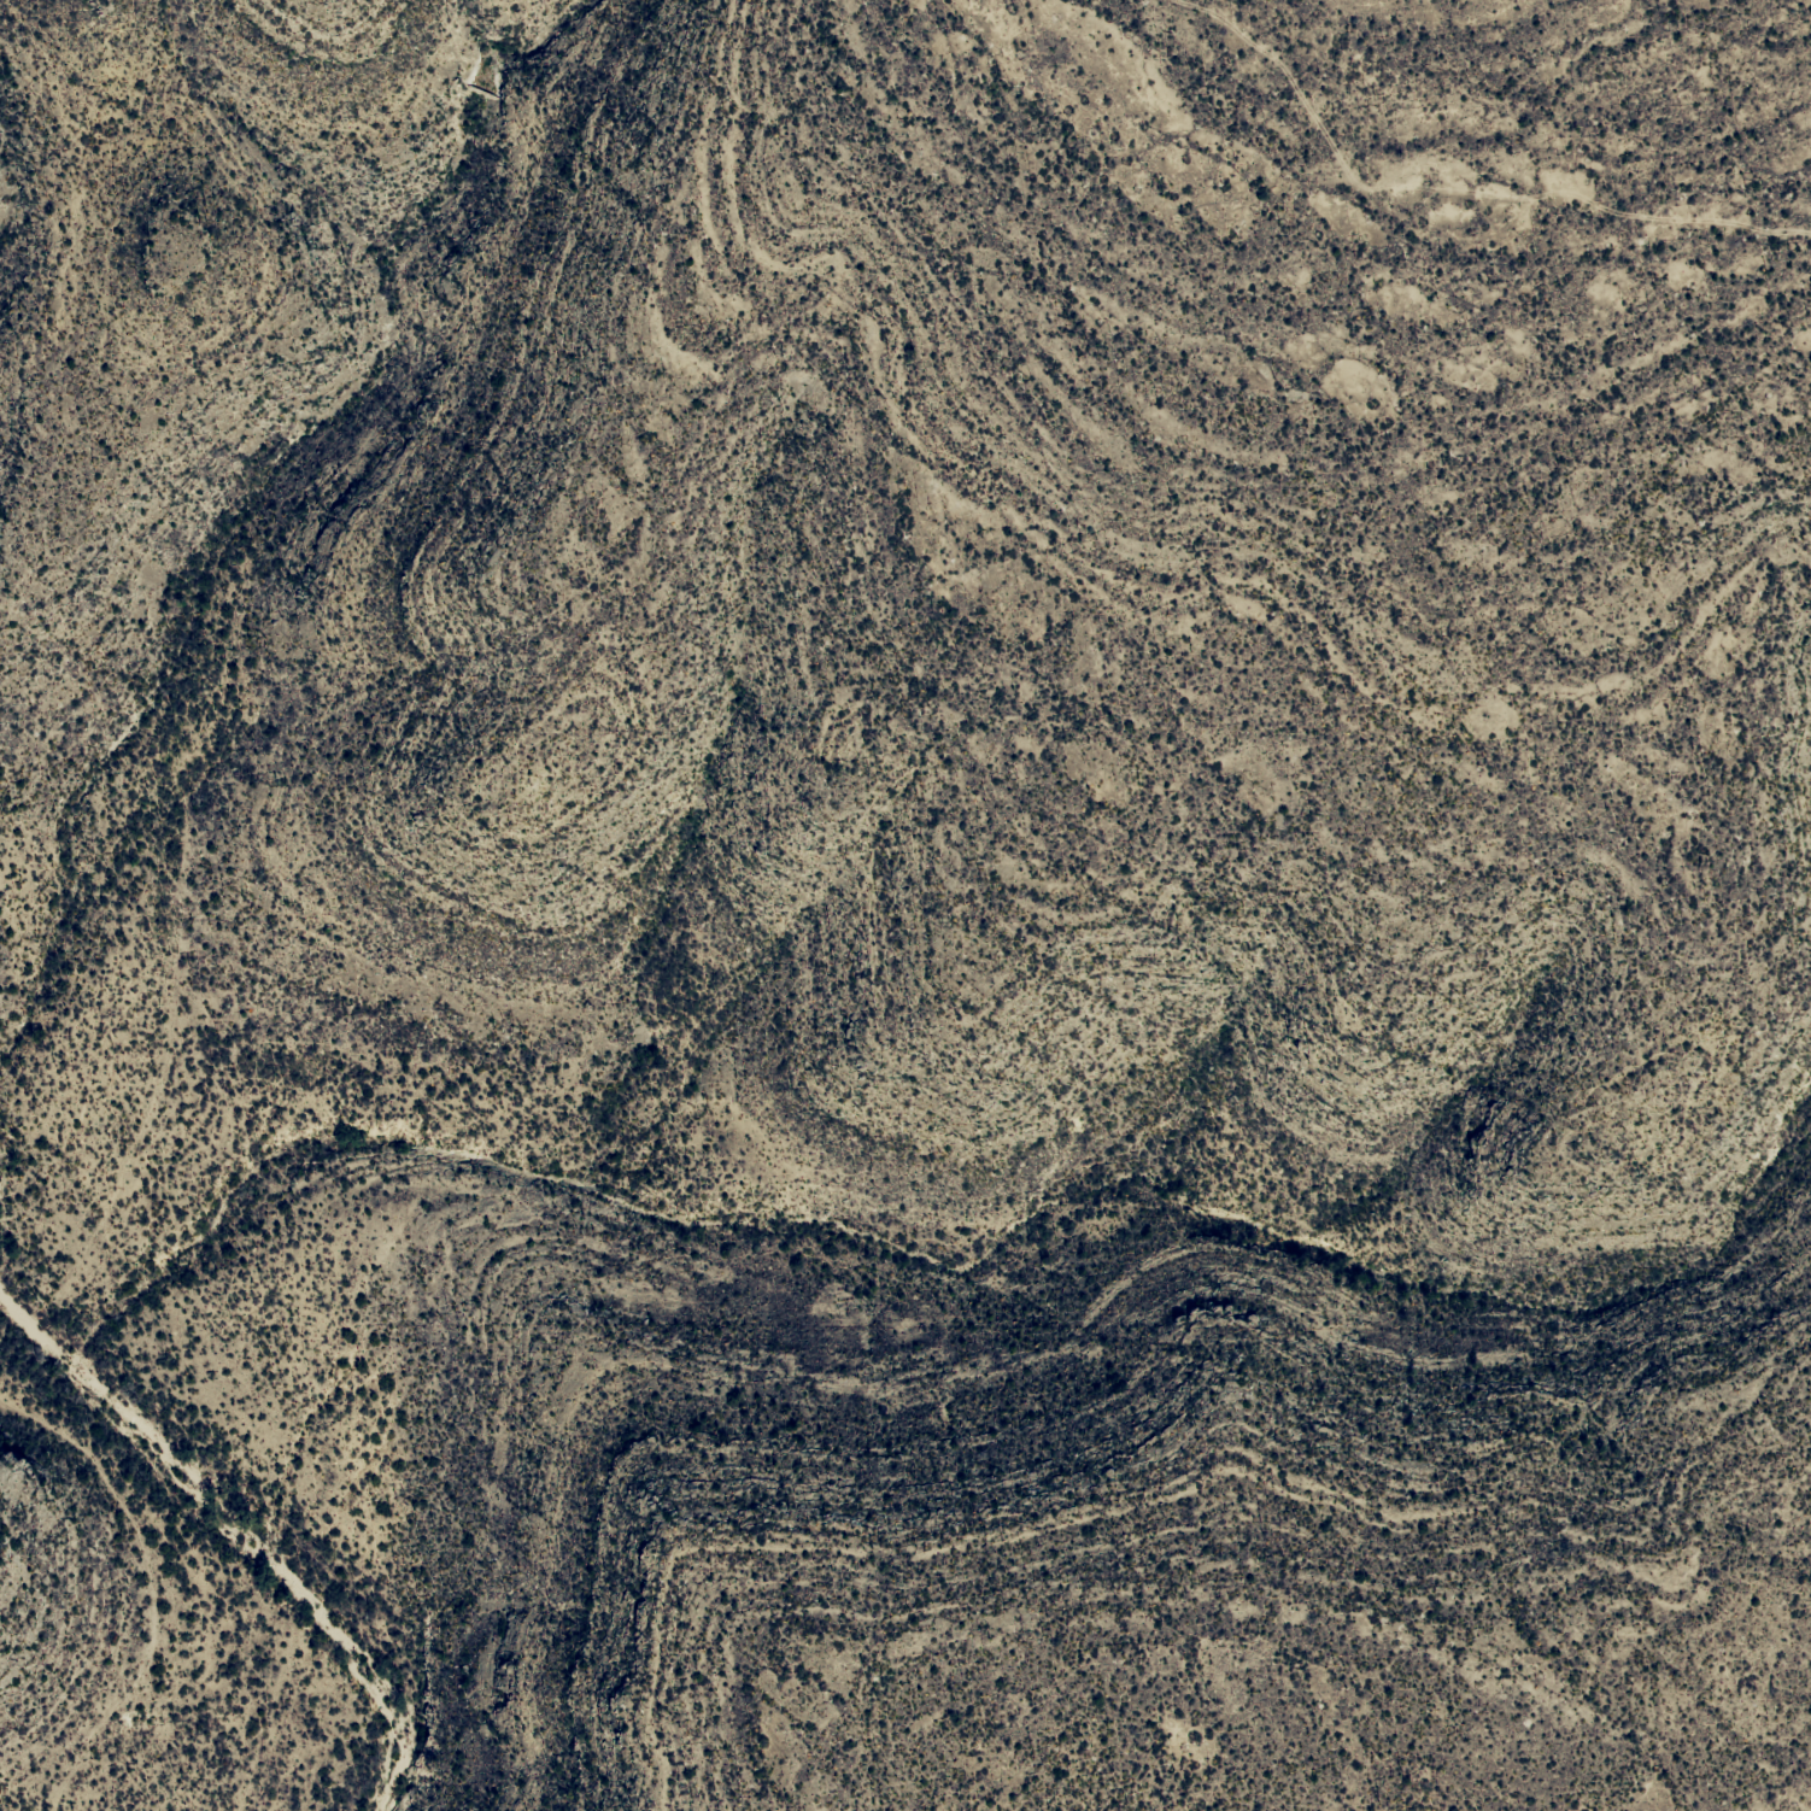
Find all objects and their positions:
road: (1735, 1652)

